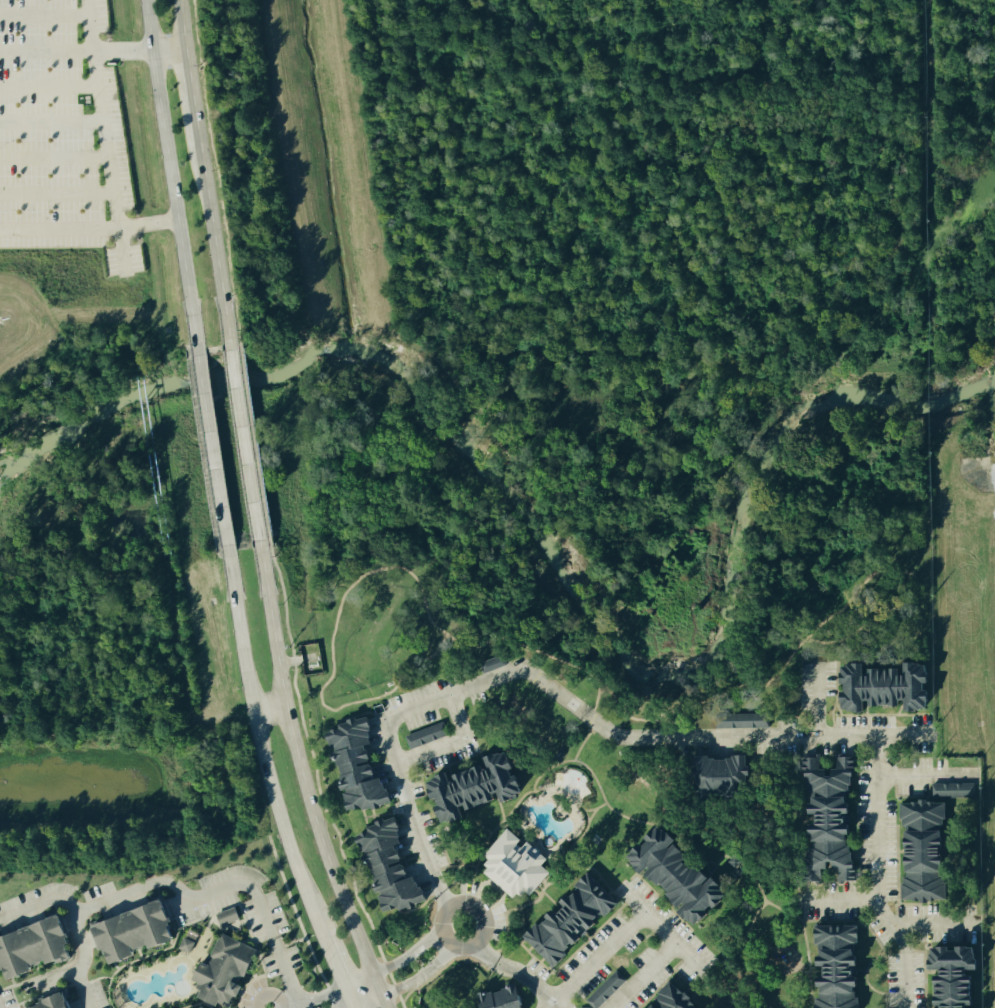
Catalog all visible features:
road: (92, 24)
road: (75, 49)
road: (169, 55)
road: (97, 66)
road: (55, 122)
road: (56, 151)
road: (113, 159)
road: (204, 176)
road: (169, 179)
road: (57, 192)
road: (146, 223)
road: (244, 450)
road: (209, 452)
river: (547, 536)
building: (496, 664)
building: (892, 687)
road: (553, 694)
road: (816, 699)
road: (268, 709)
building: (745, 721)
building: (429, 736)
road: (258, 743)
road: (450, 745)
building: (363, 766)
building: (731, 774)
road: (302, 777)
road: (926, 778)
building: (484, 786)
building: (837, 818)
building: (935, 842)
building: (517, 866)
building: (395, 867)
building: (686, 875)
road: (875, 875)
road: (151, 883)
road: (838, 903)
building: (231, 917)
building: (577, 921)
road: (483, 925)
road: (930, 928)
building: (139, 933)
road: (665, 935)
building: (191, 942)
building: (37, 949)
road: (406, 958)
road: (81, 960)
road: (596, 960)
road: (332, 961)
building: (845, 967)
road: (286, 970)
building: (228, 972)
road: (516, 974)
building: (963, 976)
road: (644, 977)
road: (419, 978)
road: (356, 982)
building: (608, 991)
road: (348, 997)
road: (320, 998)
building: (509, 998)
building: (679, 999)
building: (59, 1003)
road: (367, 1003)
road: (380, 1003)
building: (212, 1007)

